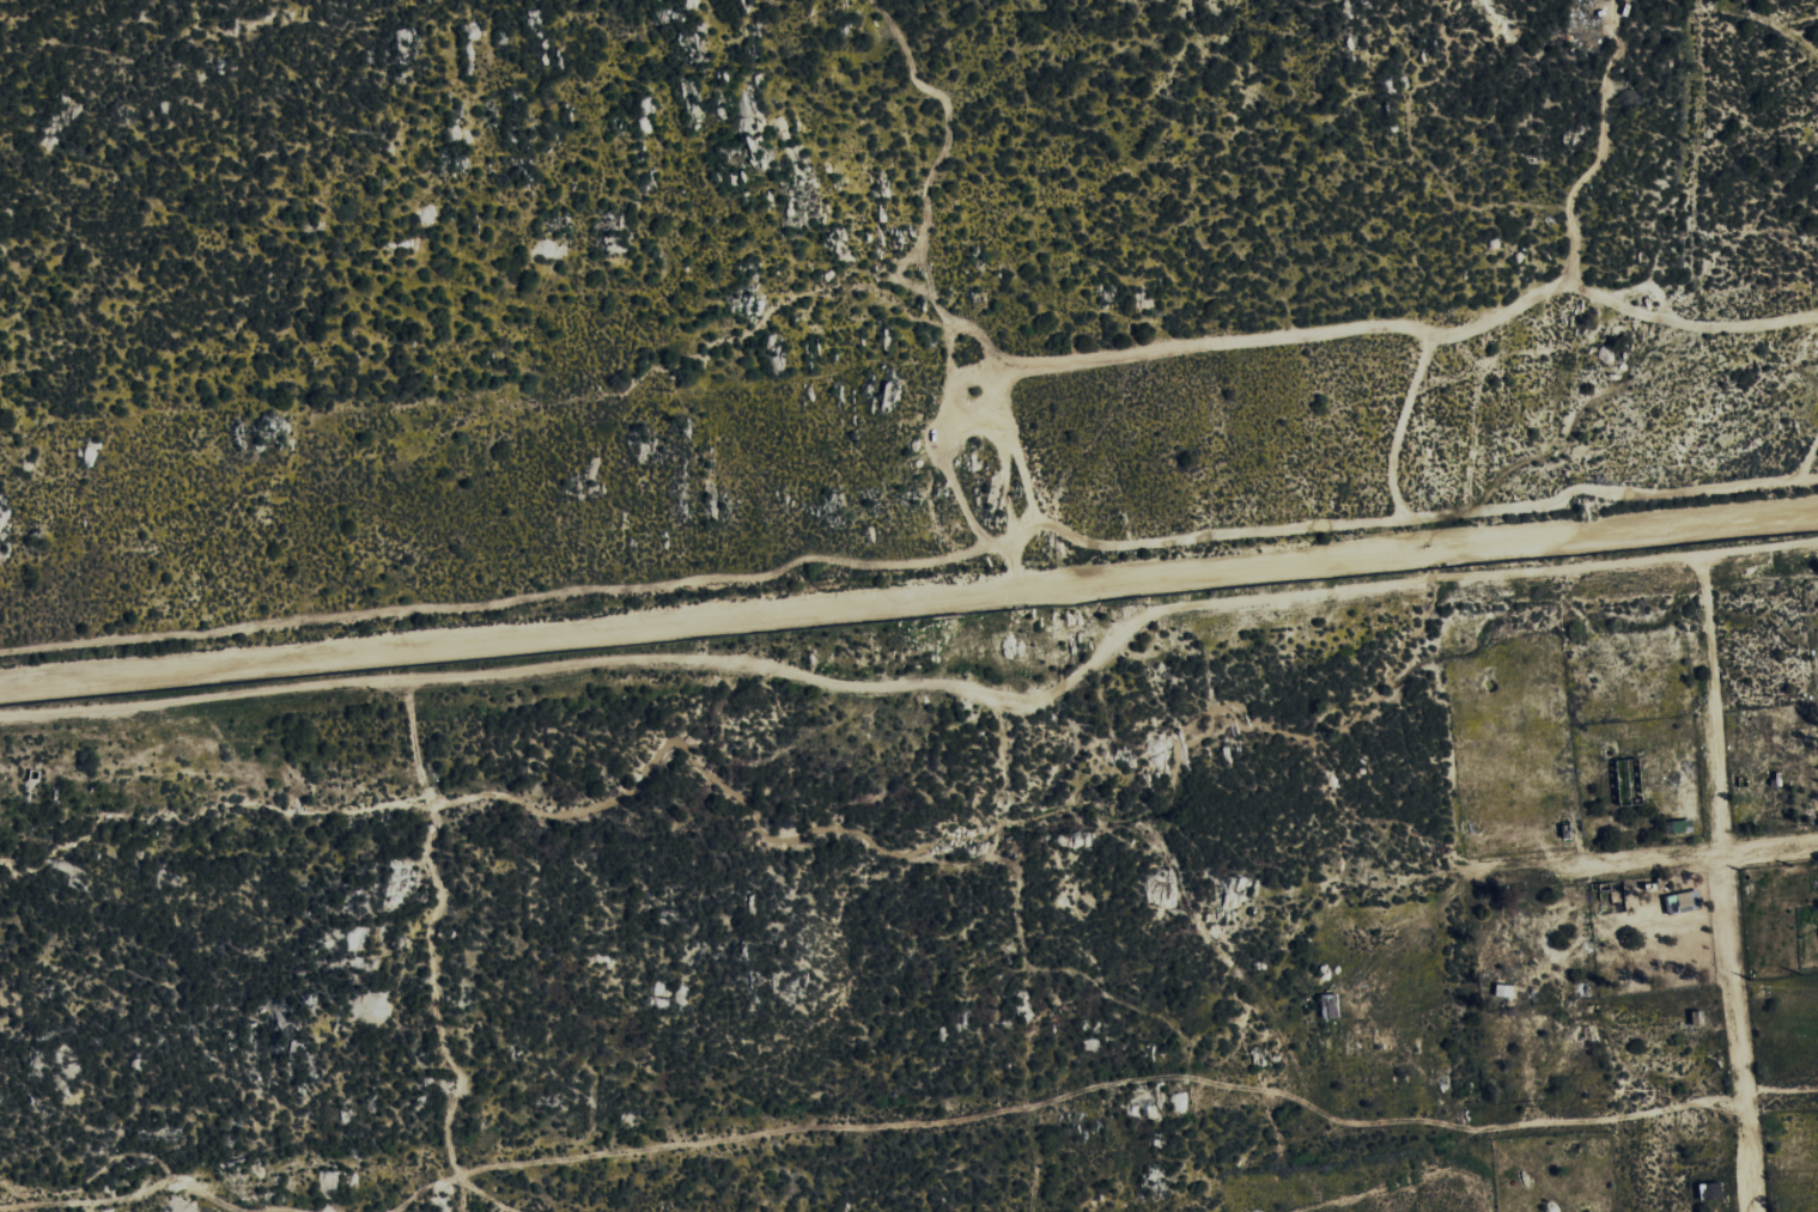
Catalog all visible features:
road: (1758, 550)
road: (908, 592)
road: (865, 690)
road: (1641, 863)
road: (1722, 884)
building: (1683, 902)
building: (1506, 989)
road: (1779, 1092)

